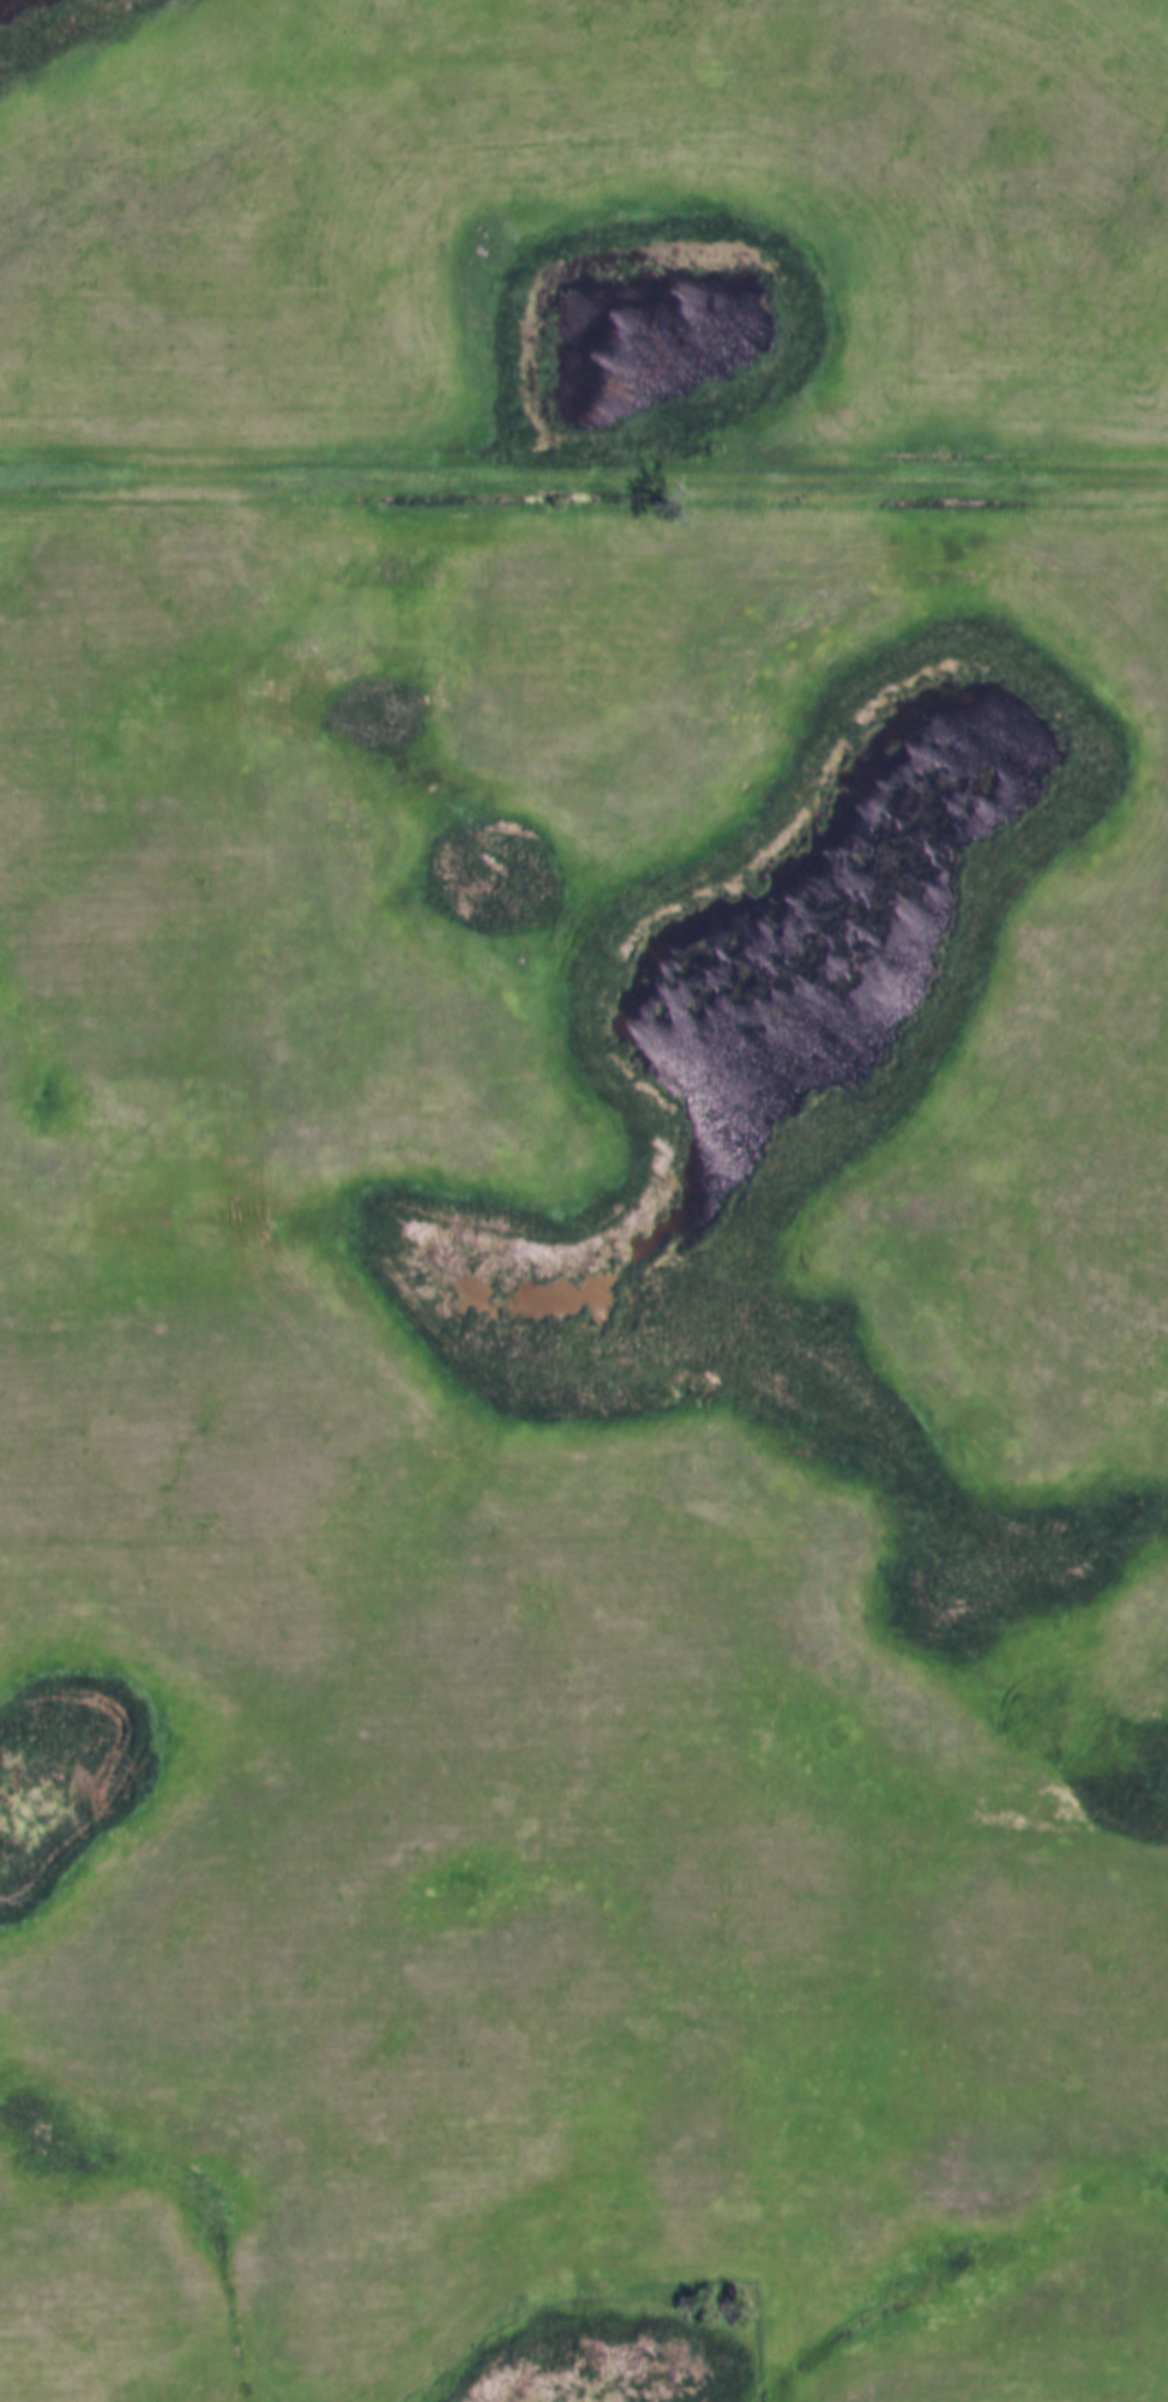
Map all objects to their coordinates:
road: (584, 478)

